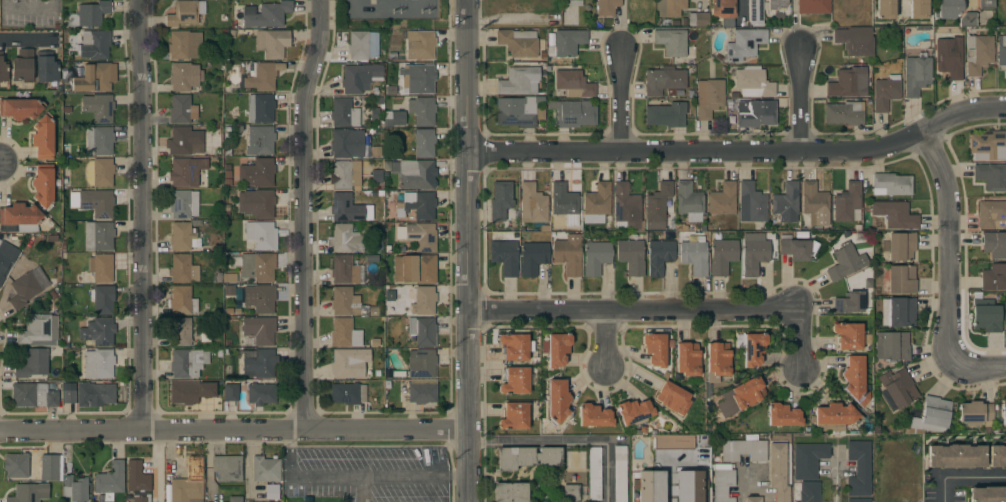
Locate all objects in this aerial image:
building: (575, 2)
road: (702, 2)
road: (966, 2)
building: (777, 4)
building: (985, 4)
road: (900, 6)
building: (605, 7)
building: (670, 7)
building: (813, 7)
building: (723, 8)
building: (947, 8)
power substation: (388, 9)
building: (885, 9)
building: (918, 9)
road: (742, 10)
road: (27, 11)
building: (755, 12)
building: (185, 13)
building: (89, 14)
building: (266, 14)
building: (698, 19)
building: (967, 19)
building: (855, 40)
road: (30, 41)
building: (518, 42)
building: (566, 42)
building: (272, 43)
building: (673, 43)
building: (92, 44)
building: (744, 44)
building: (184, 45)
building: (358, 45)
building: (420, 45)
building: (1001, 51)
building: (978, 54)
building: (949, 56)
building: (22, 66)
building: (45, 67)
building: (3, 69)
building: (916, 74)
building: (184, 76)
road: (622, 76)
building: (95, 77)
building: (261, 77)
building: (359, 78)
building: (418, 78)
building: (663, 80)
building: (518, 81)
building: (753, 82)
building: (573, 83)
building: (848, 83)
building: (885, 92)
building: (708, 97)
road: (801, 102)
building: (98, 107)
building: (20, 108)
building: (260, 108)
building: (181, 109)
building: (422, 110)
building: (516, 112)
building: (344, 113)
building: (573, 113)
building: (755, 113)
building: (844, 113)
building: (666, 114)
building: (393, 118)
building: (42, 137)
building: (99, 140)
building: (260, 140)
building: (184, 141)
building: (424, 142)
building: (346, 143)
building: (988, 145)
road: (741, 154)
building: (186, 171)
building: (99, 172)
building: (257, 173)
building: (415, 173)
building: (344, 174)
building: (376, 176)
building: (991, 176)
building: (891, 184)
building: (43, 185)
building: (722, 199)
building: (500, 200)
building: (689, 201)
building: (97, 202)
building: (786, 202)
building: (183, 203)
building: (257, 203)
building: (564, 203)
building: (597, 203)
building: (751, 203)
building: (815, 203)
building: (847, 203)
building: (416, 204)
building: (532, 204)
building: (626, 205)
building: (657, 206)
building: (345, 207)
building: (992, 214)
road: (300, 215)
building: (895, 215)
road: (142, 216)
building: (19, 218)
building: (261, 235)
building: (98, 236)
building: (183, 236)
building: (421, 237)
building: (344, 239)
road: (949, 244)
building: (994, 244)
building: (901, 246)
building: (795, 249)
road: (469, 251)
building: (567, 252)
building: (754, 255)
building: (504, 256)
building: (631, 256)
building: (694, 256)
building: (722, 256)
building: (595, 257)
building: (659, 257)
building: (6, 258)
building: (533, 258)
building: (843, 263)
building: (255, 266)
building: (415, 268)
building: (101, 269)
building: (183, 269)
building: (344, 269)
building: (229, 277)
building: (994, 278)
building: (901, 280)
building: (28, 286)
building: (228, 291)
building: (260, 298)
building: (103, 299)
building: (422, 299)
building: (182, 300)
building: (344, 301)
building: (849, 302)
building: (898, 312)
road: (634, 313)
building: (985, 315)
building: (1005, 327)
building: (39, 330)
building: (258, 330)
building: (422, 330)
building: (98, 331)
building: (181, 331)
building: (345, 333)
building: (848, 335)
road: (799, 337)
road: (608, 341)
building: (514, 346)
building: (892, 346)
building: (556, 348)
building: (655, 349)
building: (753, 349)
building: (687, 359)
building: (717, 361)
building: (188, 362)
building: (349, 362)
building: (34, 363)
building: (99, 363)
building: (259, 363)
building: (421, 363)
road: (980, 368)
building: (855, 378)
building: (515, 381)
building: (898, 387)
building: (190, 391)
building: (421, 391)
building: (230, 392)
building: (69, 393)
building: (94, 393)
building: (260, 393)
building: (348, 393)
building: (33, 395)
building: (741, 396)
building: (673, 398)
building: (557, 400)
building: (633, 411)
building: (976, 414)
building: (1004, 414)
building: (783, 415)
building: (514, 416)
building: (594, 416)
building: (930, 416)
building: (833, 417)
road: (233, 433)
road: (567, 441)
building: (672, 443)
building: (744, 450)
building: (955, 456)
building: (997, 456)
building: (527, 457)
building: (808, 459)
building: (16, 465)
building: (51, 467)
building: (227, 468)
building: (859, 468)
building: (265, 469)
building: (778, 471)
building: (594, 473)
building: (620, 474)
road: (356, 477)
road: (963, 477)
building: (109, 481)
building: (138, 481)
road: (836, 482)
building: (187, 485)
building: (723, 485)
building: (649, 486)
building: (689, 486)
building: (75, 488)
road: (740, 488)
road: (361, 489)
building: (271, 491)
building: (805, 491)
building: (29, 492)
building: (510, 492)
building: (571, 493)
building: (987, 494)
building: (234, 499)
building: (753, 499)
building: (858, 500)

